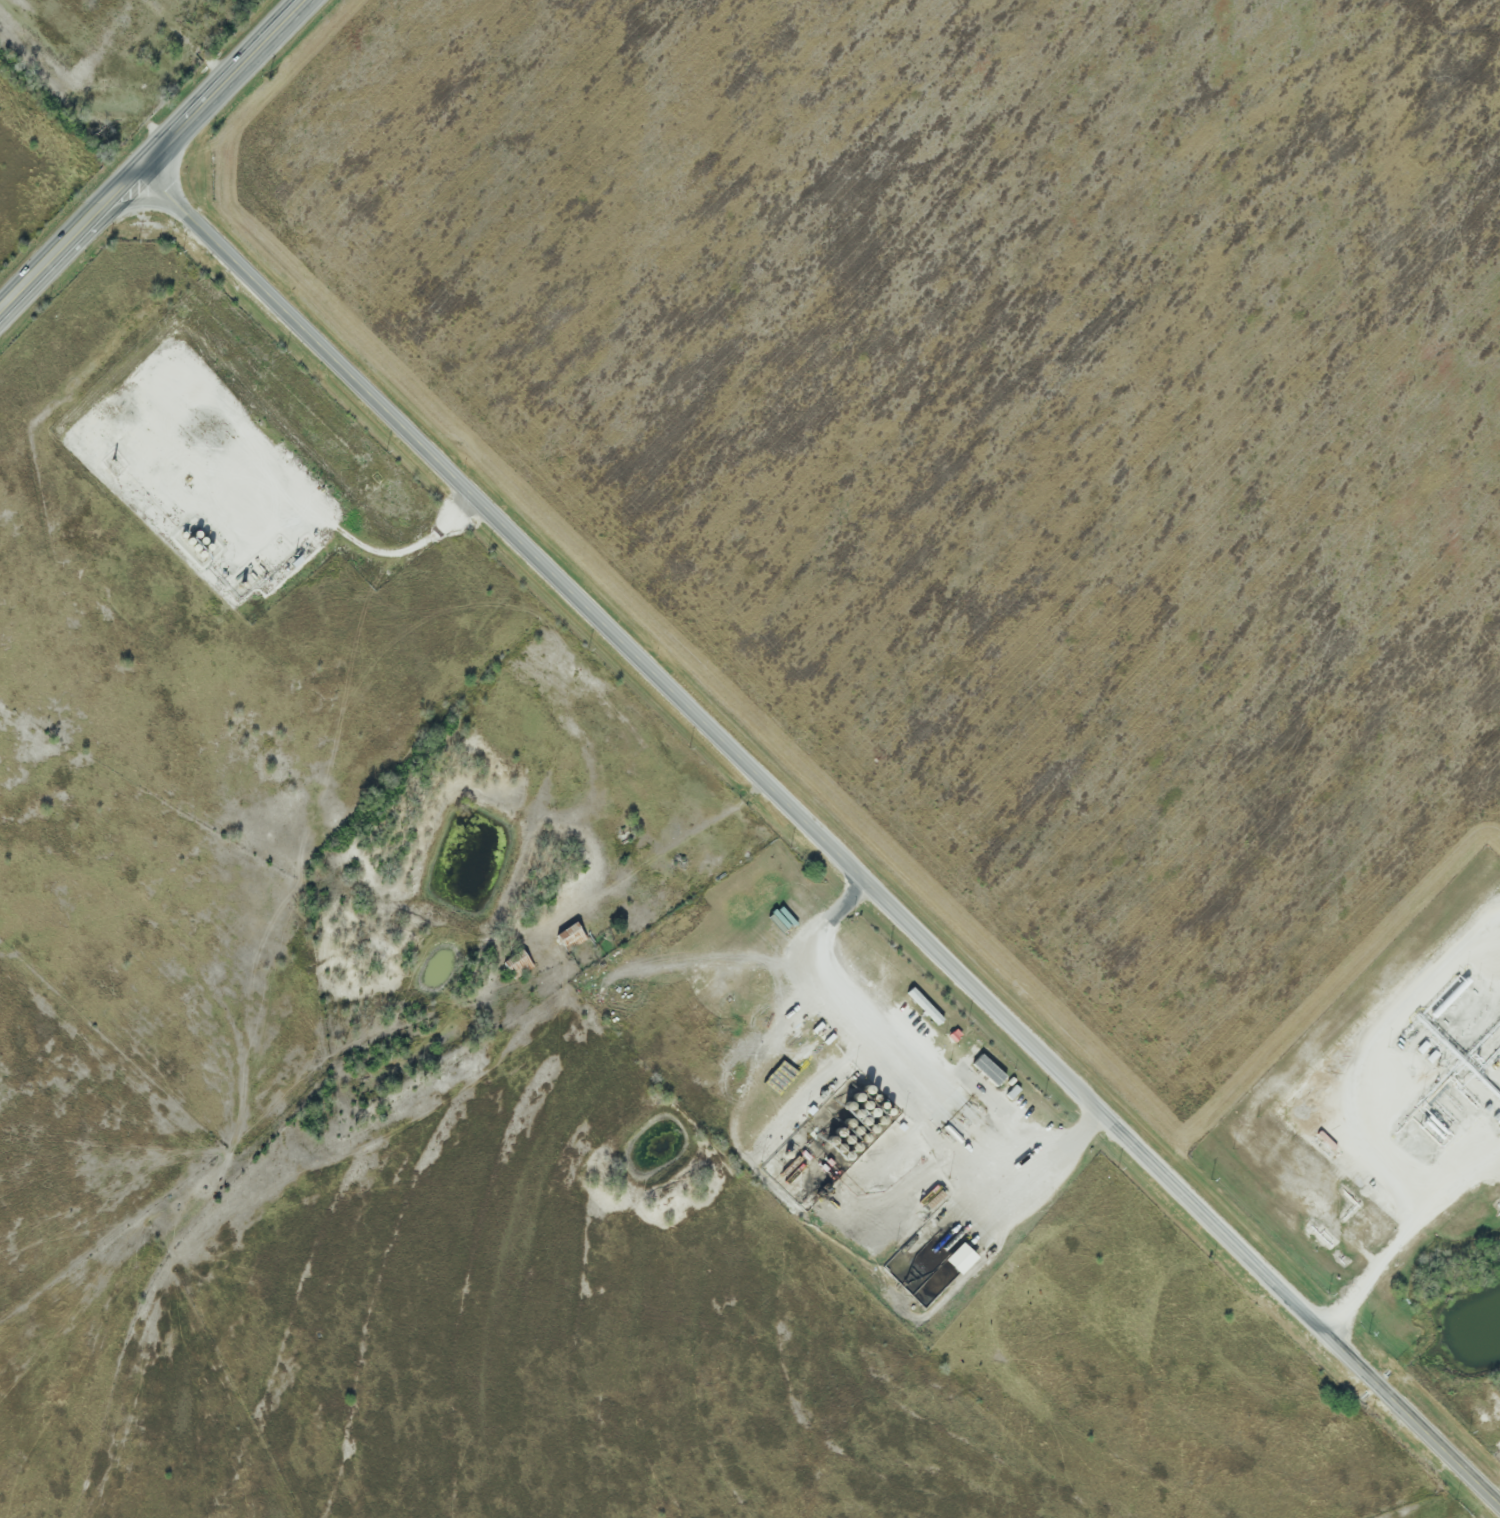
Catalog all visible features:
road: (156, 161)
road: (825, 824)
building: (568, 937)
building: (515, 964)

